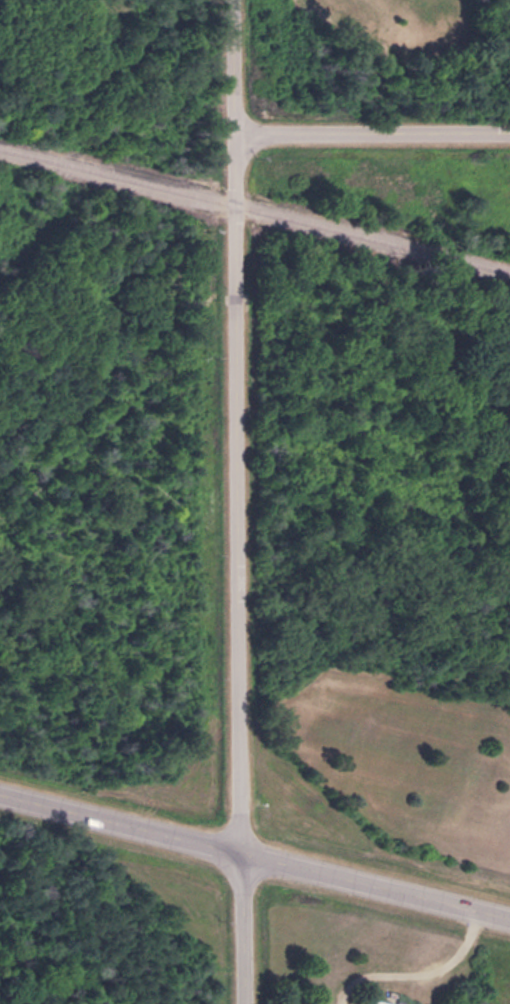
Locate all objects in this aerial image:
road: (372, 127)
railway: (256, 199)
road: (241, 501)
road: (256, 847)
road: (415, 970)
building: (374, 1001)

